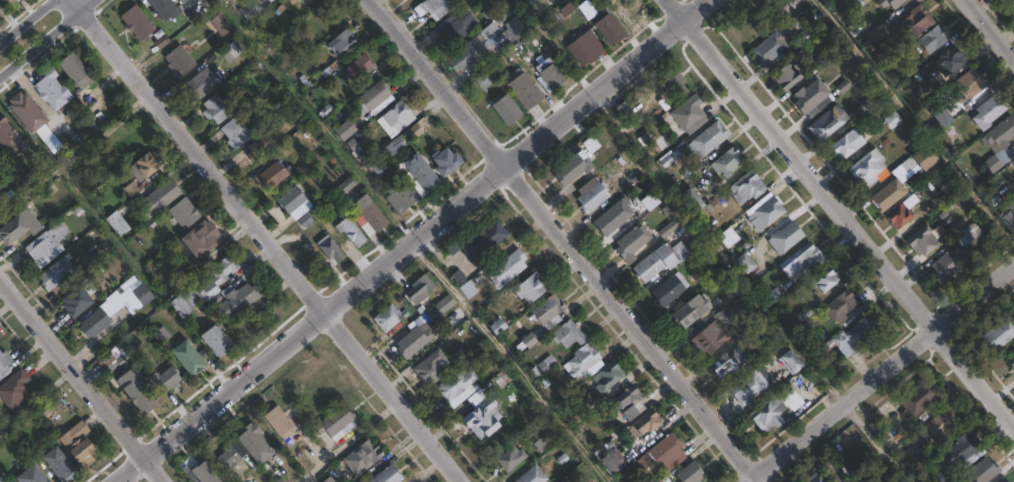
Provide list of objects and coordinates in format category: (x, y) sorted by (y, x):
building: (181, 1)
building: (291, 1)
building: (4, 3)
building: (867, 3)
building: (891, 3)
building: (1011, 4)
building: (437, 7)
building: (162, 9)
building: (247, 10)
road: (25, 20)
building: (220, 23)
building: (136, 24)
building: (912, 26)
building: (454, 27)
building: (514, 28)
road: (990, 28)
building: (608, 30)
building: (933, 39)
road: (49, 40)
building: (776, 40)
building: (340, 42)
building: (584, 50)
building: (230, 52)
building: (465, 56)
building: (823, 58)
building: (177, 61)
building: (948, 61)
building: (357, 67)
building: (73, 69)
building: (552, 75)
building: (786, 76)
building: (484, 78)
building: (201, 82)
building: (672, 82)
building: (965, 85)
building: (49, 88)
building: (523, 89)
building: (810, 96)
building: (373, 97)
building: (214, 108)
building: (505, 108)
building: (623, 108)
building: (988, 111)
building: (688, 112)
building: (941, 114)
building: (28, 115)
building: (396, 117)
building: (827, 121)
road: (914, 124)
building: (343, 129)
building: (234, 130)
building: (950, 135)
building: (707, 138)
building: (7, 139)
building: (847, 142)
building: (999, 142)
building: (259, 146)
building: (393, 146)
building: (123, 149)
building: (924, 156)
building: (444, 161)
building: (727, 161)
building: (140, 165)
building: (571, 167)
building: (868, 168)
building: (419, 171)
building: (271, 173)
building: (619, 185)
building: (746, 186)
building: (890, 193)
building: (589, 194)
building: (399, 195)
building: (159, 197)
building: (692, 198)
building: (290, 199)
road: (677, 201)
building: (766, 212)
road: (842, 212)
building: (183, 213)
building: (1008, 215)
building: (368, 216)
building: (611, 216)
building: (899, 216)
building: (117, 223)
building: (18, 226)
building: (349, 231)
building: (727, 236)
building: (785, 237)
road: (266, 240)
road: (408, 241)
building: (477, 241)
road: (569, 241)
building: (199, 242)
building: (923, 242)
building: (45, 244)
building: (629, 244)
building: (329, 249)
building: (805, 259)
building: (91, 260)
building: (660, 260)
building: (744, 262)
building: (946, 265)
building: (506, 268)
building: (55, 272)
building: (217, 276)
building: (457, 277)
building: (824, 279)
building: (529, 287)
building: (668, 288)
building: (466, 289)
building: (420, 290)
building: (729, 292)
building: (136, 295)
building: (236, 299)
building: (75, 301)
building: (740, 302)
building: (177, 304)
building: (444, 304)
building: (841, 306)
building: (548, 310)
building: (688, 311)
building: (386, 317)
building: (94, 320)
building: (567, 333)
building: (999, 333)
building: (856, 334)
building: (709, 338)
building: (214, 340)
building: (413, 340)
building: (808, 342)
building: (113, 357)
building: (187, 358)
road: (510, 360)
building: (1011, 360)
building: (790, 361)
building: (583, 362)
building: (730, 362)
building: (4, 363)
building: (546, 363)
building: (429, 368)
road: (878, 371)
building: (607, 375)
road: (82, 379)
building: (164, 379)
building: (457, 385)
building: (749, 385)
building: (13, 388)
building: (135, 393)
building: (919, 397)
road: (36, 398)
building: (792, 399)
building: (628, 402)
building: (767, 413)
building: (482, 418)
building: (278, 422)
building: (941, 422)
building: (333, 423)
building: (646, 423)
building: (878, 429)
building: (71, 434)
building: (552, 435)
road: (347, 442)
road: (873, 442)
building: (243, 447)
building: (79, 451)
building: (963, 451)
building: (662, 454)
building: (362, 456)
building: (509, 458)
building: (613, 460)
building: (57, 464)
building: (916, 468)
building: (981, 471)
building: (205, 472)
building: (689, 473)
building: (30, 475)
building: (385, 475)
building: (530, 475)
building: (812, 478)
building: (937, 478)
building: (328, 479)
building: (1001, 480)
building: (0, 481)
building: (949, 481)

